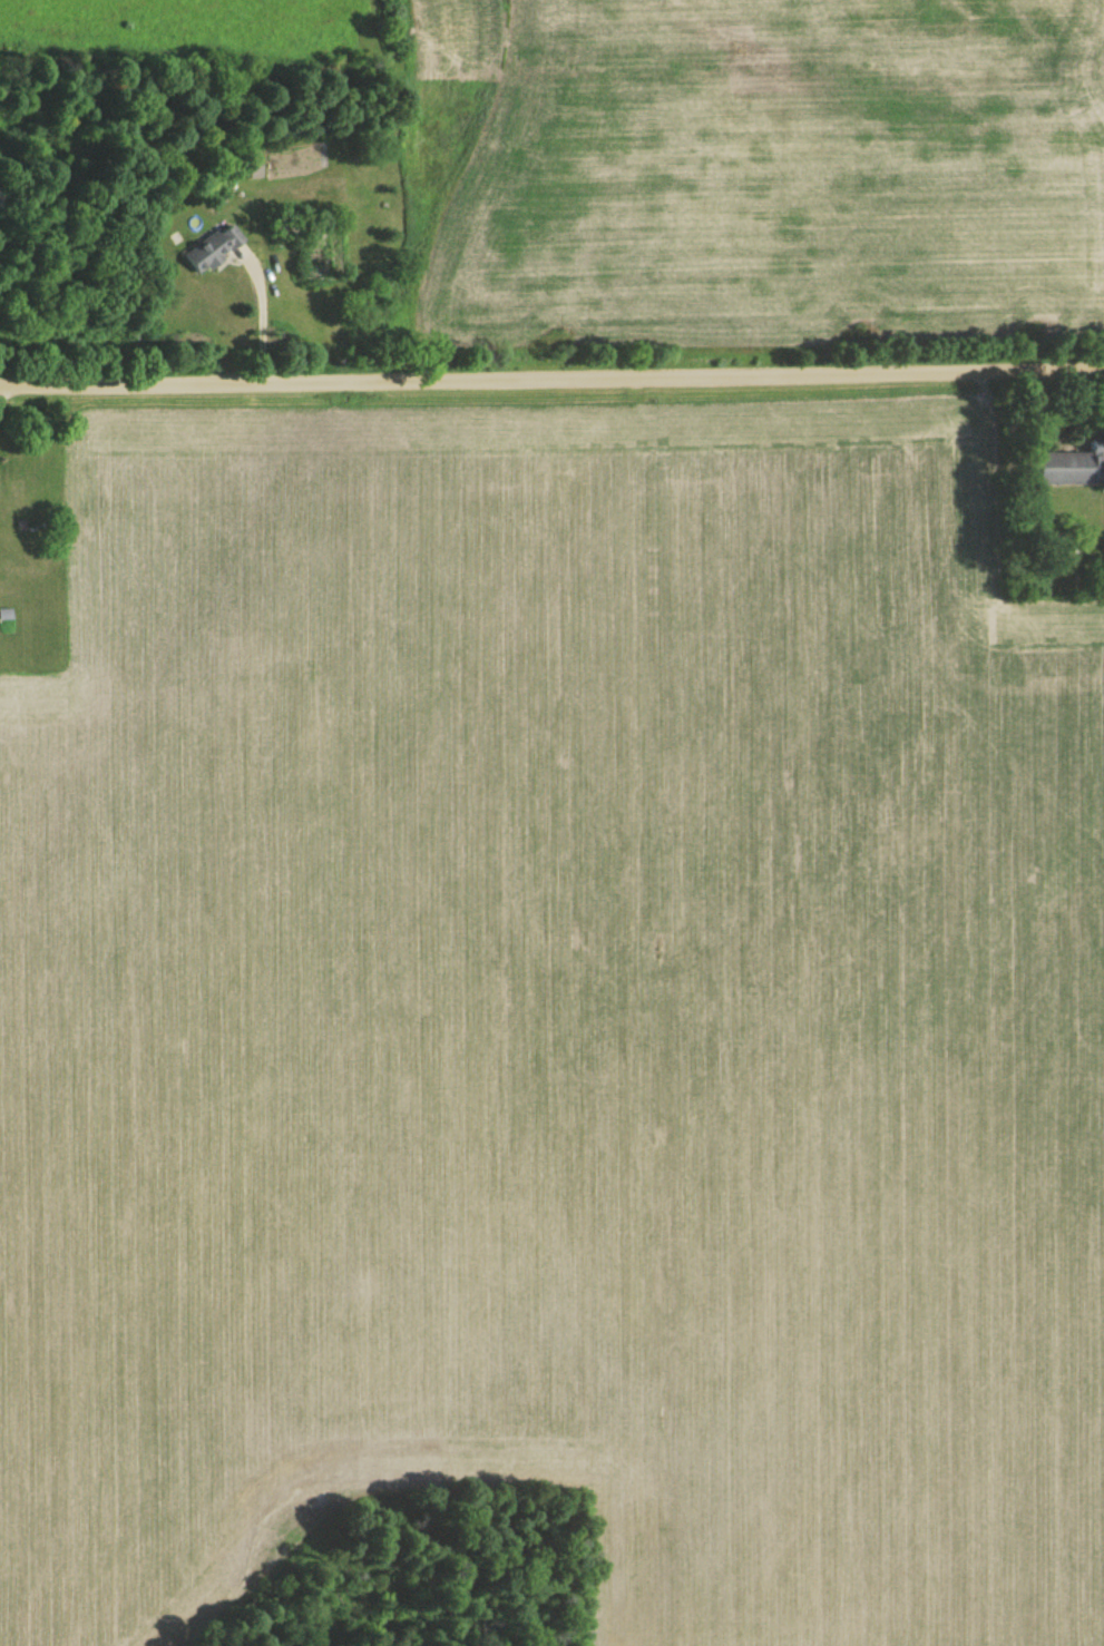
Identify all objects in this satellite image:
building: (212, 251)
building: (314, 252)
road: (551, 378)
building: (1069, 469)

